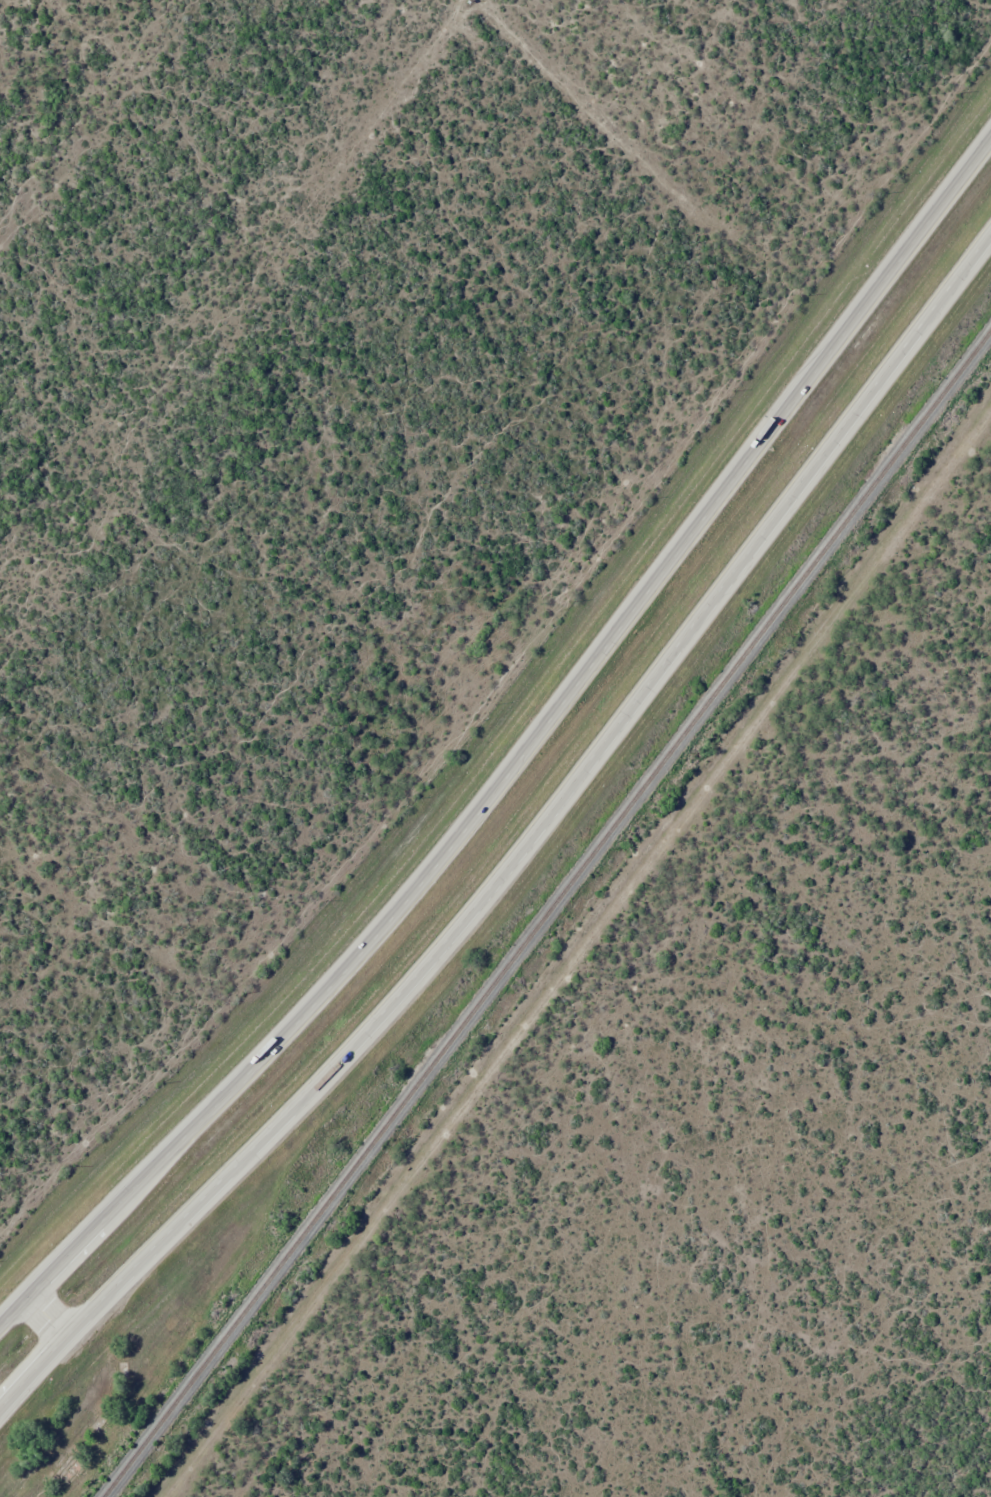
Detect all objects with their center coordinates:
road: (519, 755)
road: (517, 858)
railway: (547, 912)
road: (53, 1320)

